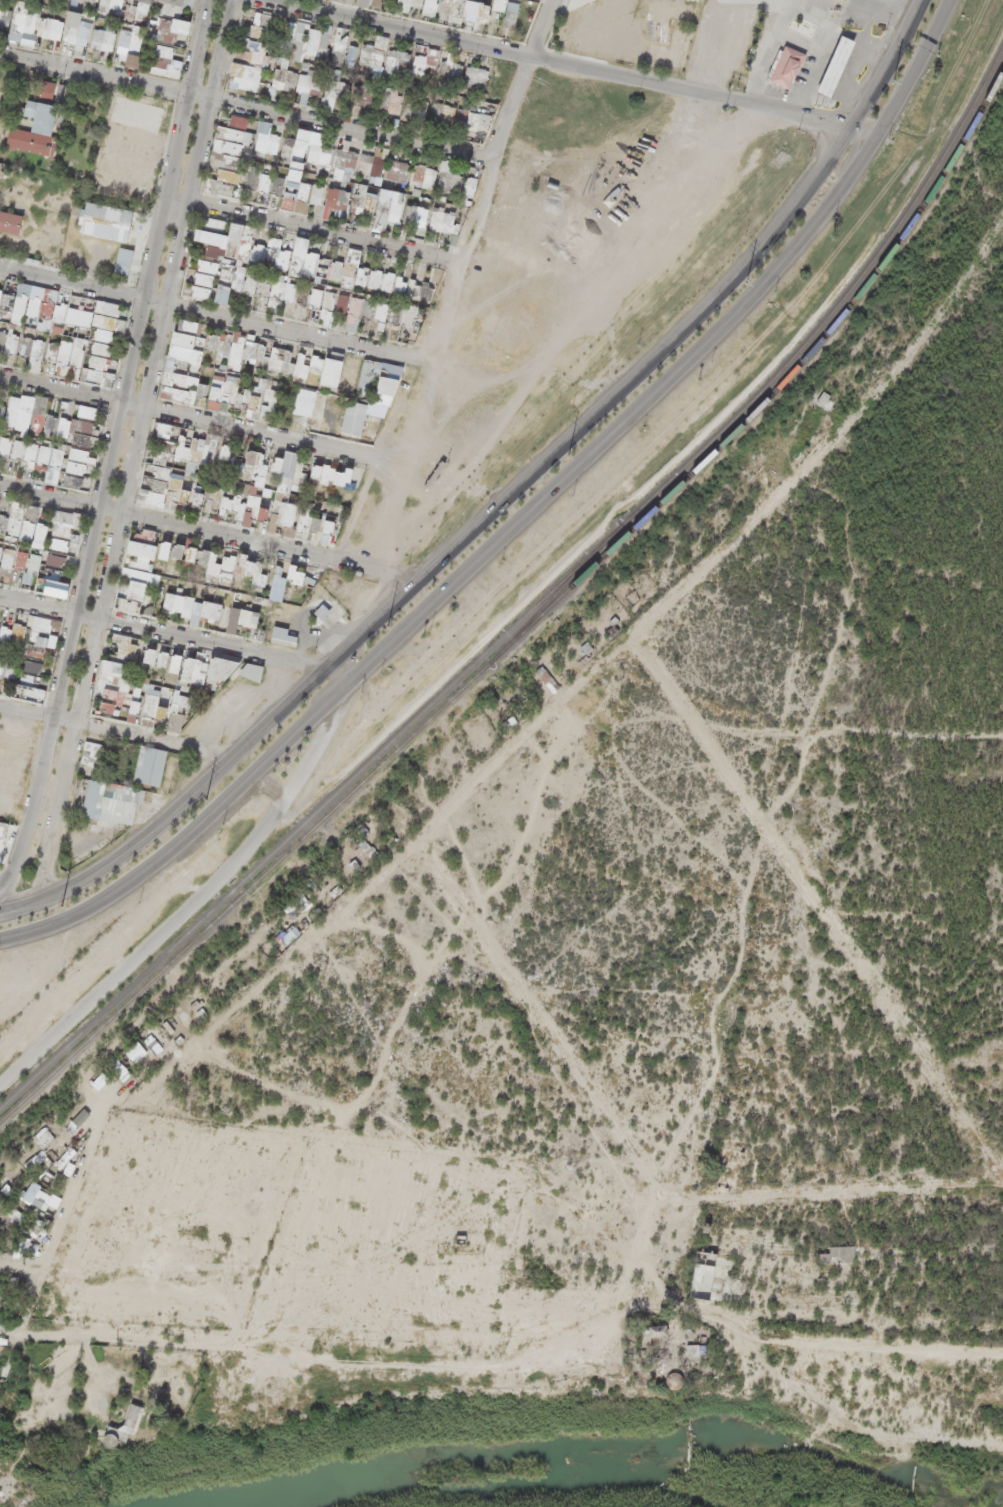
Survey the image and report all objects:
road: (501, 497)
road: (520, 518)
river: (591, 1451)

